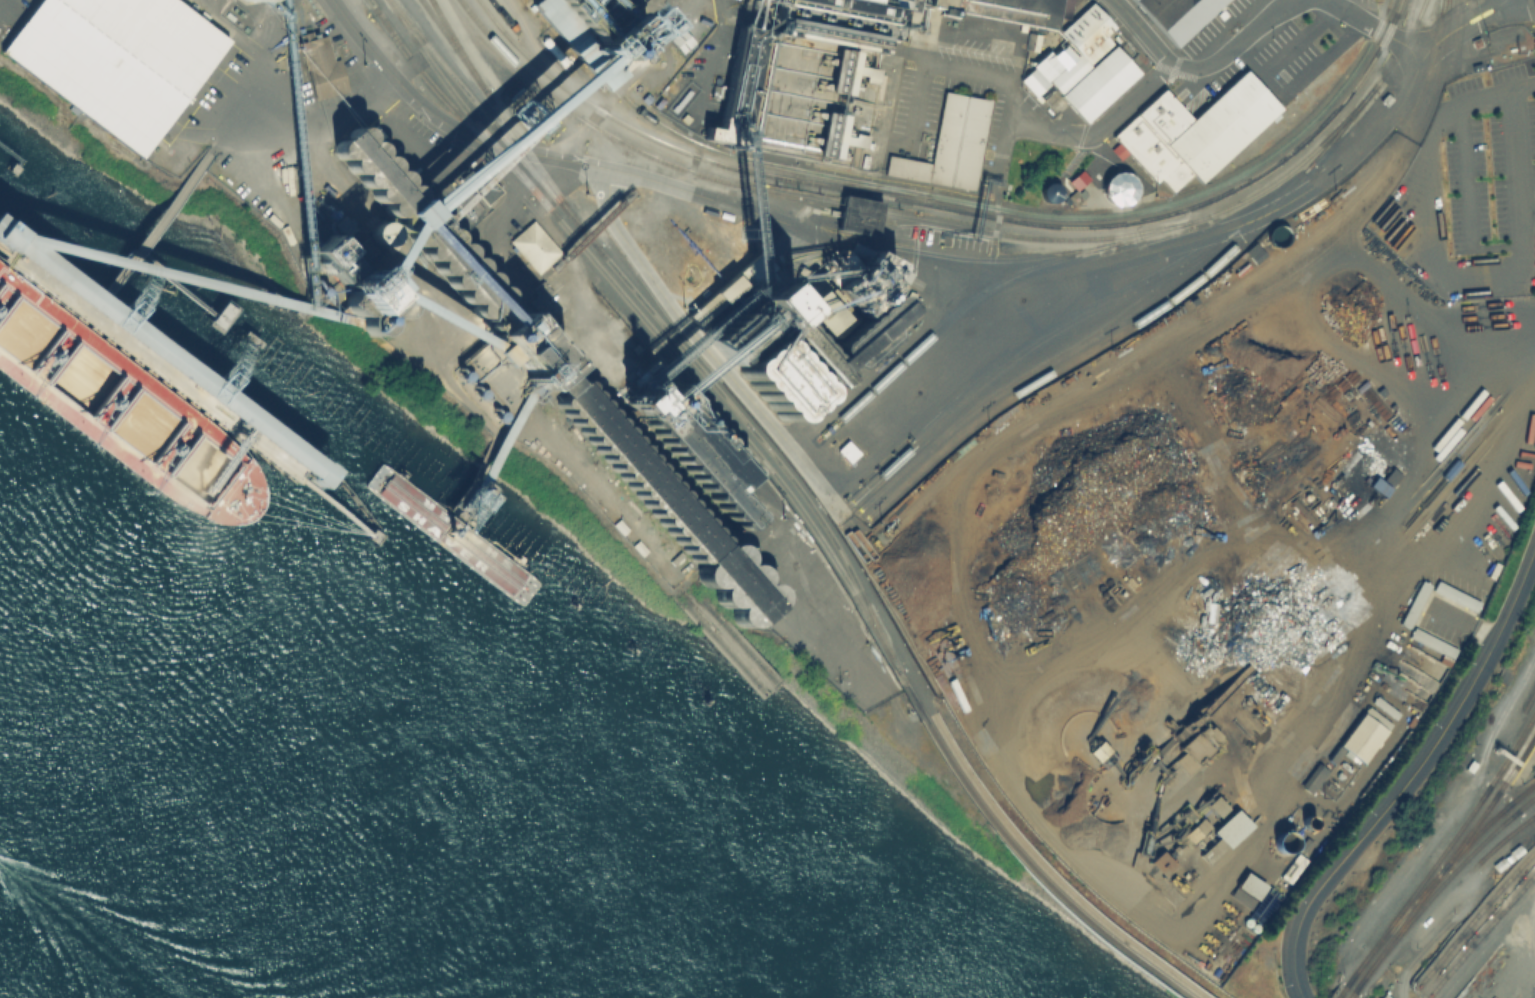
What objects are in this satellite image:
road: (1491, 8)
building: (998, 10)
railway: (504, 15)
building: (1173, 16)
road: (1373, 27)
railway: (450, 33)
building: (106, 61)
road: (1199, 66)
building: (315, 67)
railway: (521, 68)
building: (1076, 70)
building: (820, 74)
railway: (557, 81)
road: (1522, 86)
road: (1019, 100)
railway: (1328, 101)
railway: (449, 102)
railway: (500, 111)
building: (1188, 132)
building: (808, 138)
road: (1002, 143)
building: (945, 146)
pier: (8, 157)
road: (602, 166)
railway: (1268, 167)
railway: (862, 180)
railway: (840, 183)
railway: (857, 192)
road: (516, 200)
road: (1237, 224)
railway: (1337, 237)
railway: (1050, 239)
road: (1450, 273)
building: (350, 274)
building: (727, 287)
railway: (977, 293)
building: (95, 295)
railway: (1215, 298)
railway: (664, 324)
railway: (655, 329)
building: (862, 332)
railway: (1080, 341)
railway: (1101, 341)
road: (710, 351)
building: (527, 353)
railway: (1014, 358)
pier: (203, 400)
building: (687, 436)
building: (269, 437)
building: (847, 450)
pier: (478, 465)
building: (637, 470)
pier: (447, 532)
building: (749, 599)
railway: (1528, 699)
building: (1361, 737)
railway: (1518, 747)
railway: (1521, 760)
road: (1411, 776)
building: (1312, 777)
railway: (1484, 790)
railway: (1493, 797)
building: (1214, 805)
railway: (1504, 809)
railway: (1512, 815)
building: (1230, 827)
building: (1195, 829)
railway: (1505, 835)
railway: (1443, 849)
railway: (1023, 856)
railway: (1446, 861)
building: (1160, 862)
railway: (1433, 877)
railway: (1437, 886)
building: (1246, 890)
railway: (1476, 916)
railway: (1482, 931)
railway: (1342, 986)
railway: (1350, 992)
railway: (1336, 993)
railway: (1346, 996)

